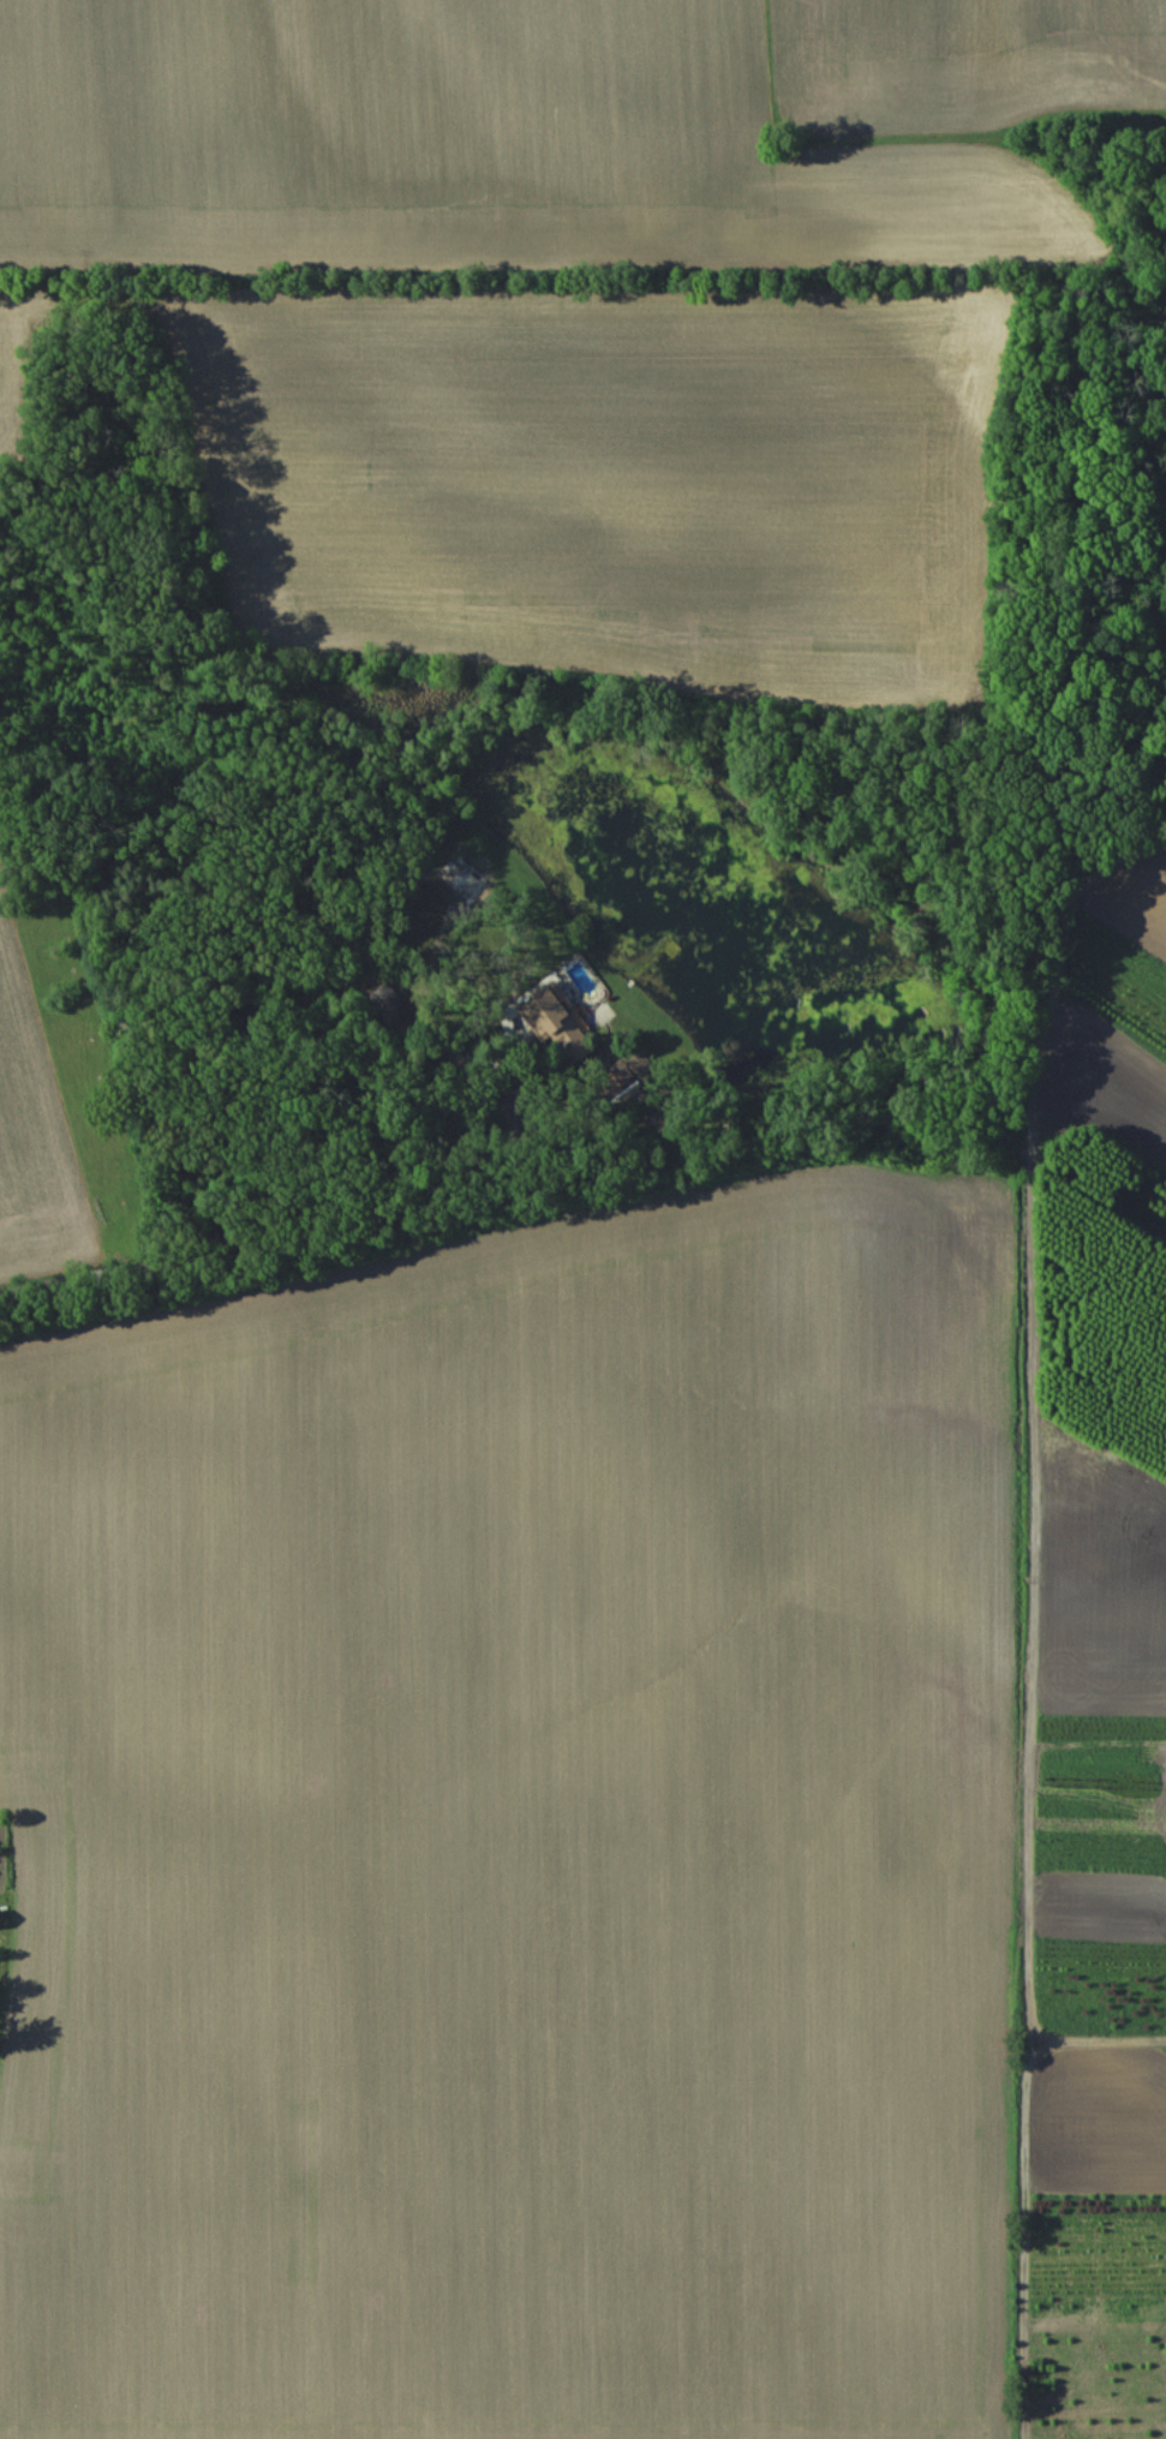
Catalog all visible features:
building: (458, 883)
building: (389, 1004)
building: (556, 1026)
building: (638, 1076)
road: (503, 1083)
road: (401, 1232)
road: (213, 1257)

